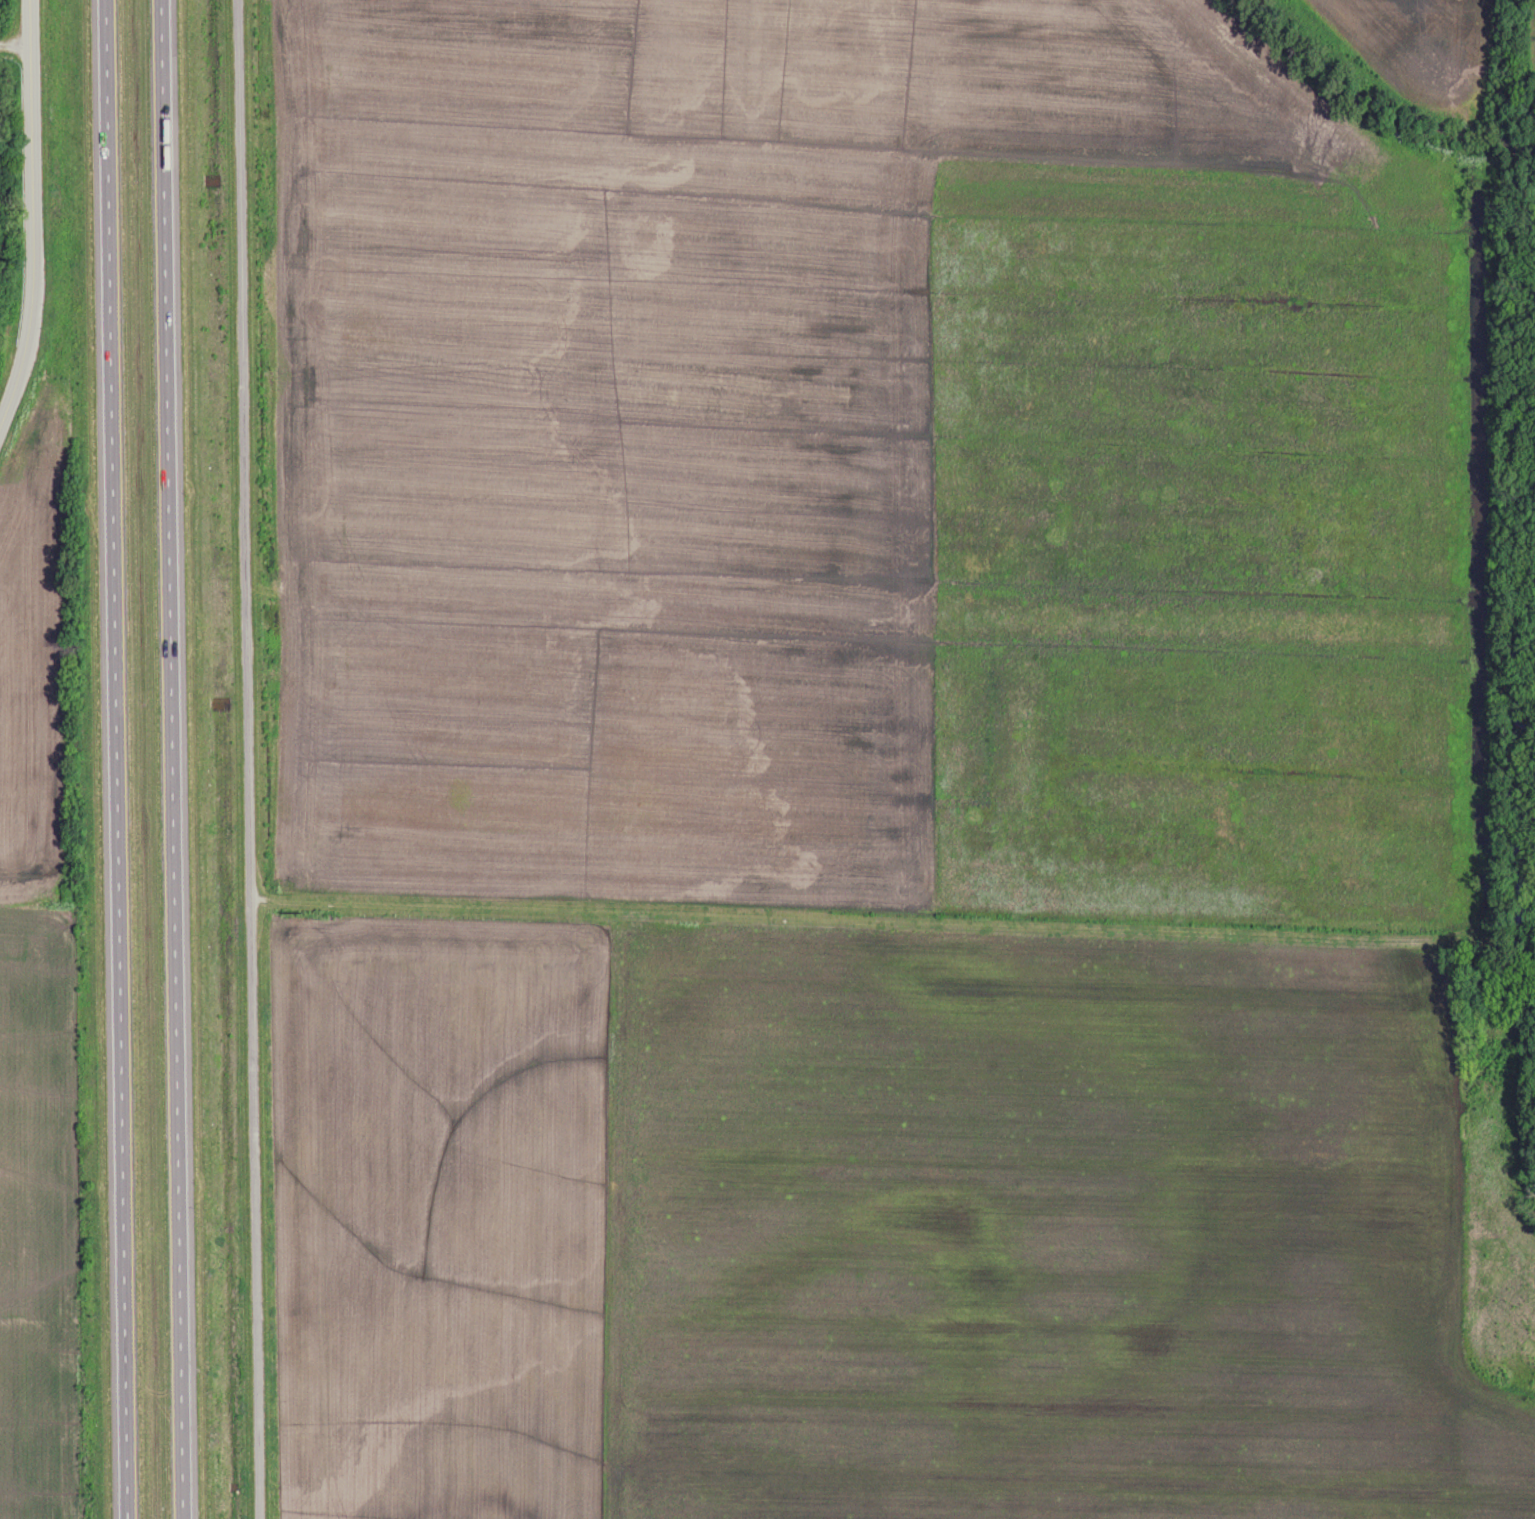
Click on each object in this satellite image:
road: (34, 222)
road: (115, 759)
road: (177, 759)
road: (249, 759)

